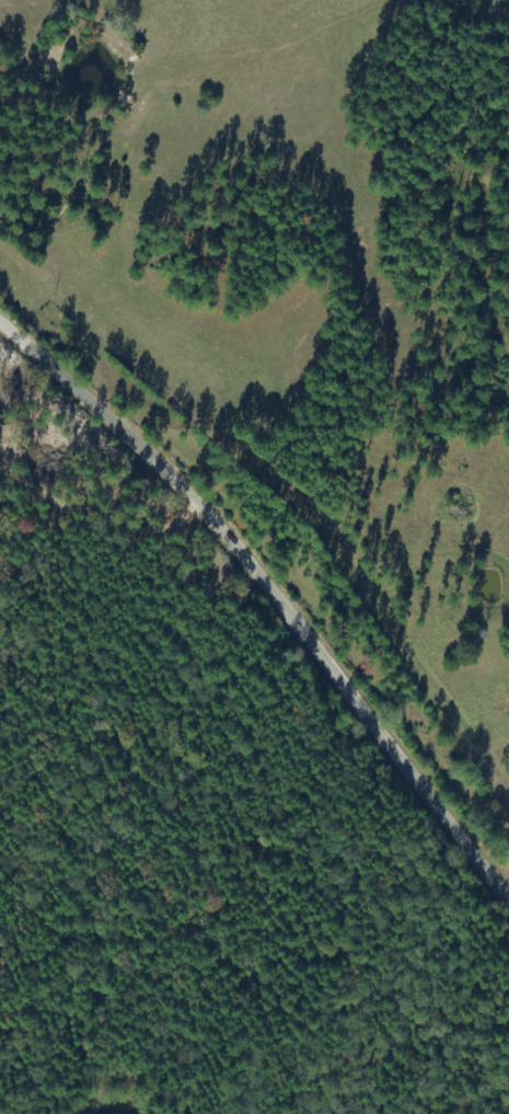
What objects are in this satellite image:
road: (274, 598)

